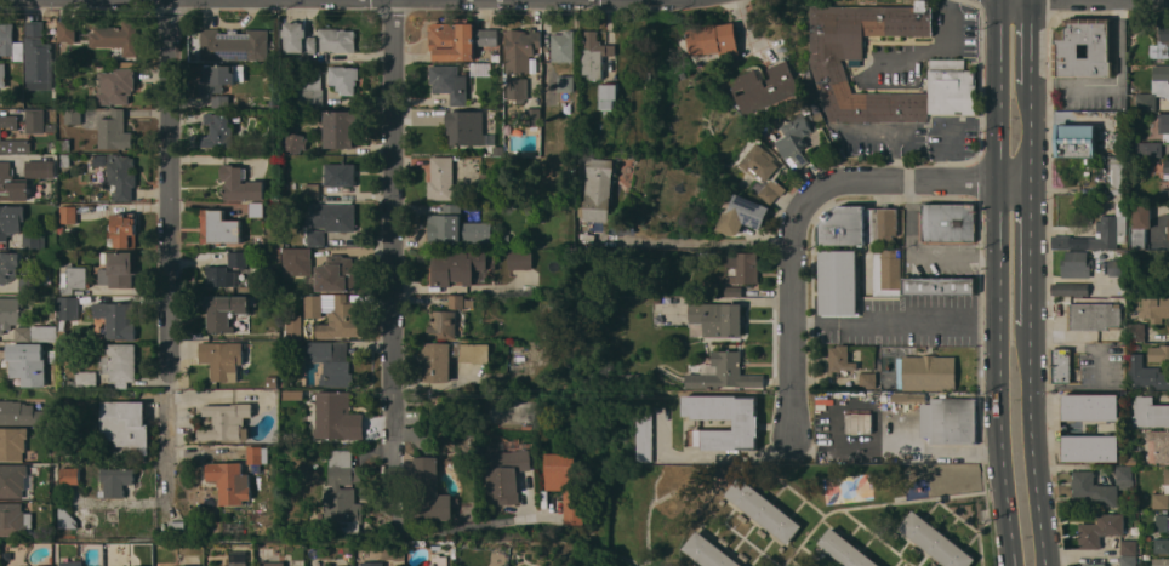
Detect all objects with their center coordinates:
road: (747, 28)
building: (69, 30)
building: (1164, 33)
building: (116, 38)
building: (487, 38)
building: (7, 39)
building: (713, 39)
building: (320, 41)
building: (452, 41)
building: (235, 44)
building: (563, 46)
road: (1032, 46)
road: (937, 47)
building: (1082, 47)
building: (520, 48)
building: (594, 53)
building: (39, 57)
building: (826, 61)
building: (1161, 73)
building: (2, 75)
building: (343, 79)
building: (450, 82)
building: (566, 82)
road: (1113, 82)
building: (116, 84)
building: (217, 84)
building: (765, 87)
building: (952, 87)
building: (312, 90)
building: (517, 90)
building: (608, 95)
building: (4, 99)
building: (1146, 101)
building: (70, 115)
building: (534, 118)
building: (35, 120)
building: (1164, 125)
building: (466, 127)
building: (341, 128)
building: (114, 131)
building: (219, 131)
building: (0, 135)
road: (1032, 136)
building: (1074, 139)
building: (796, 141)
building: (295, 142)
building: (1151, 149)
building: (760, 161)
building: (1165, 168)
building: (40, 170)
building: (340, 175)
building: (121, 176)
building: (1117, 176)
building: (441, 178)
building: (12, 184)
building: (240, 184)
building: (599, 189)
building: (309, 190)
building: (772, 190)
road: (804, 202)
building: (256, 210)
building: (68, 215)
building: (743, 215)
building: (340, 217)
building: (10, 221)
building: (948, 222)
building: (447, 224)
building: (857, 225)
building: (1140, 225)
building: (1168, 227)
building: (219, 228)
building: (124, 230)
building: (1099, 233)
building: (315, 238)
building: (32, 240)
road: (695, 240)
road: (169, 251)
building: (238, 258)
building: (520, 259)
road: (1032, 259)
building: (297, 261)
building: (1076, 264)
building: (10, 265)
building: (456, 265)
building: (746, 267)
building: (1116, 267)
building: (118, 269)
building: (886, 271)
building: (337, 274)
building: (219, 276)
building: (73, 279)
building: (838, 281)
road: (997, 282)
building: (27, 285)
building: (940, 285)
building: (1070, 288)
building: (732, 290)
building: (460, 302)
building: (1154, 307)
building: (68, 308)
building: (223, 311)
building: (11, 313)
building: (332, 314)
building: (1094, 315)
building: (118, 319)
building: (715, 319)
road: (899, 322)
building: (444, 325)
building: (293, 327)
road: (395, 330)
building: (1136, 332)
building: (36, 333)
building: (1159, 354)
building: (450, 358)
building: (840, 358)
building: (222, 359)
building: (119, 362)
building: (331, 362)
building: (33, 364)
building: (1060, 365)
building: (724, 372)
building: (926, 372)
building: (1153, 378)
building: (84, 379)
building: (631, 379)
building: (868, 379)
building: (272, 382)
building: (909, 398)
building: (1090, 406)
building: (1150, 412)
building: (21, 413)
building: (337, 416)
building: (952, 419)
building: (227, 422)
building: (126, 424)
building: (746, 424)
building: (645, 435)
building: (13, 442)
building: (1091, 447)
building: (1158, 447)
road: (947, 448)
road: (1034, 453)
building: (258, 454)
building: (69, 475)
building: (503, 476)
building: (1124, 476)
building: (12, 480)
building: (115, 481)
building: (229, 481)
building: (566, 485)
building: (1094, 488)
building: (429, 491)
building: (342, 492)
building: (1162, 496)
building: (764, 509)
building: (65, 519)
building: (15, 520)
building: (1163, 522)
building: (176, 528)
building: (1100, 528)
building: (935, 541)
building: (1162, 545)
building: (1128, 547)
building: (845, 549)
building: (709, 551)
building: (1146, 556)
building: (439, 560)
building: (1128, 561)
building: (1161, 561)
building: (273, 562)
building: (70, 564)
building: (239, 564)
building: (372, 564)
building: (1094, 564)
building: (194, 565)

